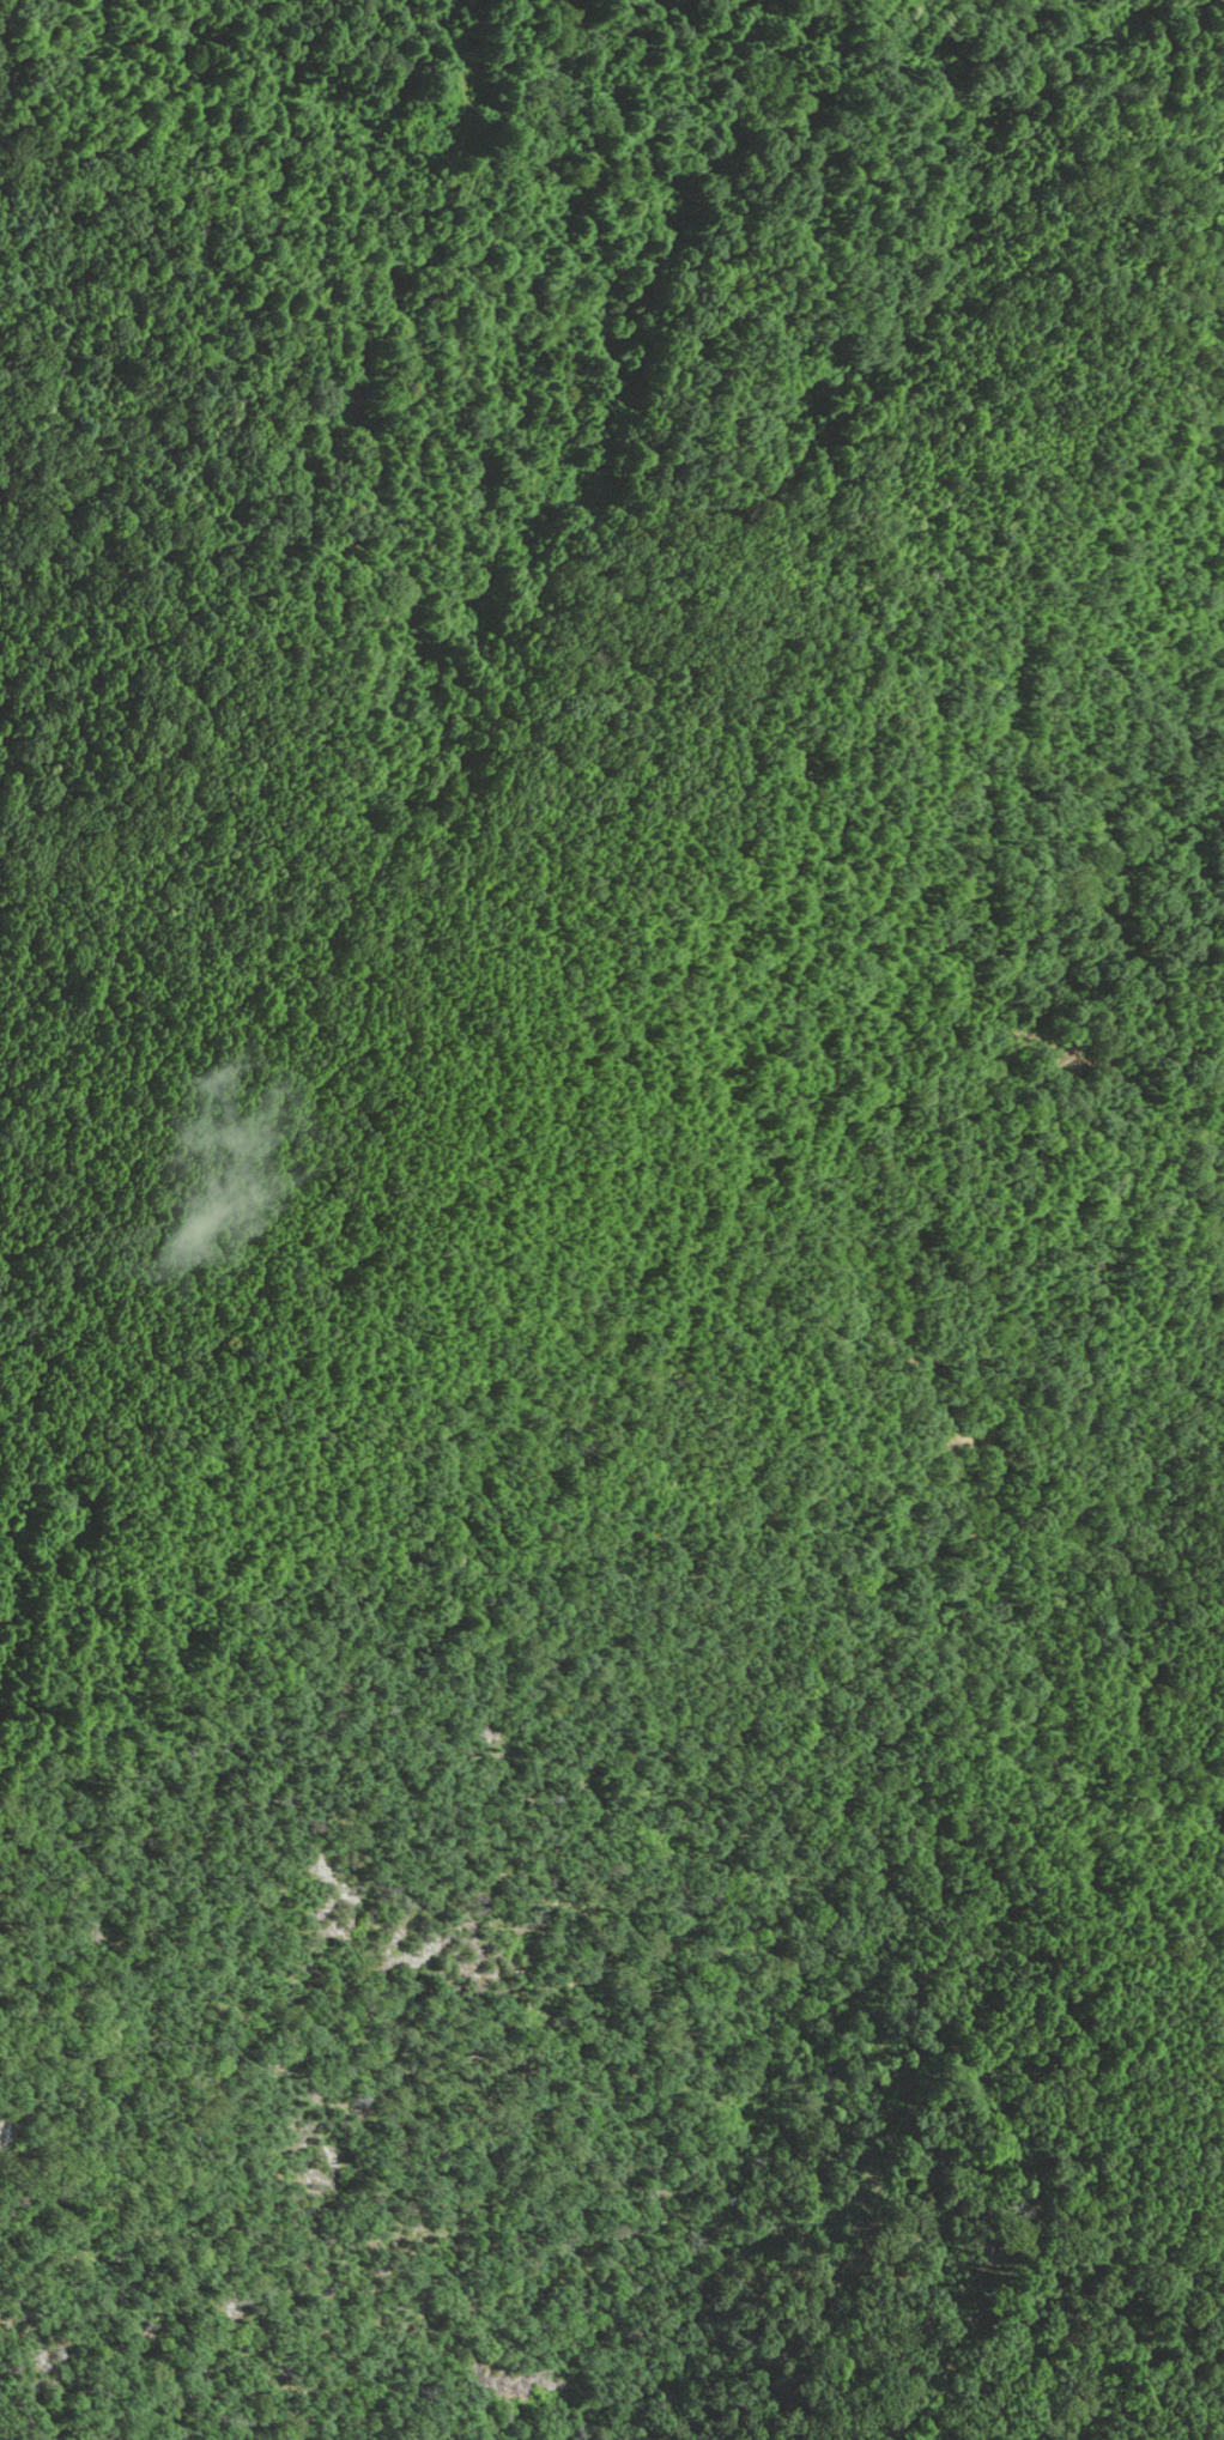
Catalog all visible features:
road: (400, 55)

